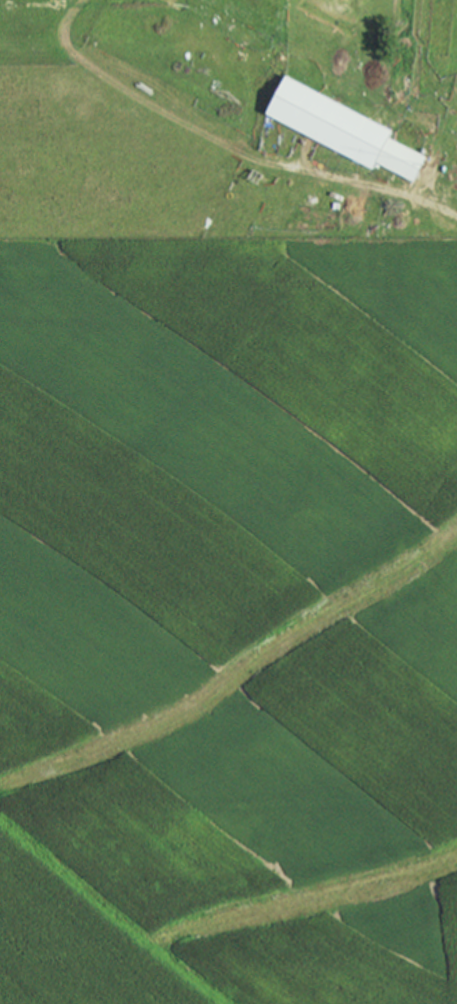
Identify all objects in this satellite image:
building: (340, 128)

